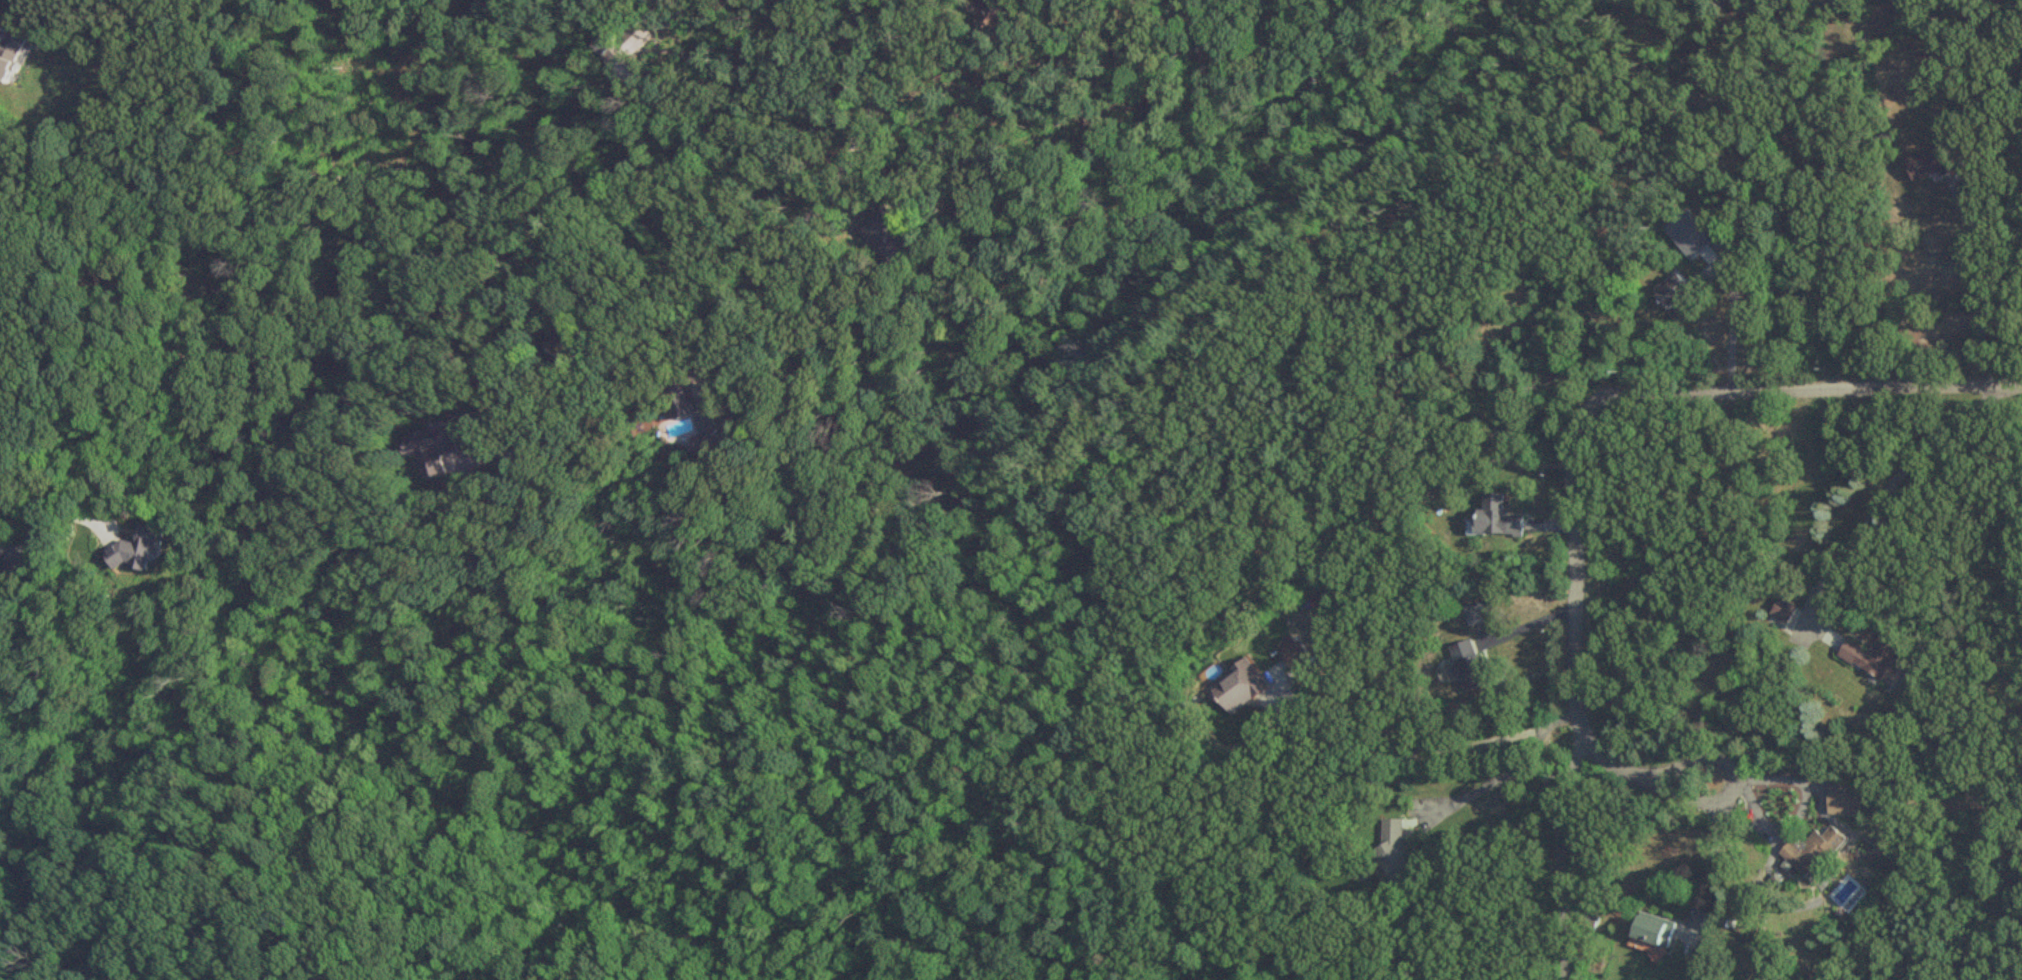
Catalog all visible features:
road: (659, 22)
building: (11, 54)
building: (1928, 165)
road: (825, 189)
building: (893, 237)
road: (1976, 281)
building: (1677, 293)
road: (1733, 325)
building: (565, 353)
road: (1920, 386)
building: (5, 401)
road: (593, 403)
building: (1493, 431)
building: (439, 447)
road: (1807, 475)
road: (1575, 495)
road: (20, 516)
building: (1496, 519)
building: (2, 548)
building: (18, 574)
road: (1859, 575)
building: (1783, 610)
building: (1478, 614)
building: (1873, 654)
building: (1468, 666)
building: (1242, 685)
road: (1419, 754)
road: (1699, 762)
road: (1493, 779)
building: (1845, 800)
building: (1812, 850)
building: (1397, 855)
road: (1556, 859)
road: (1711, 874)
building: (1649, 931)
building: (317, 974)

